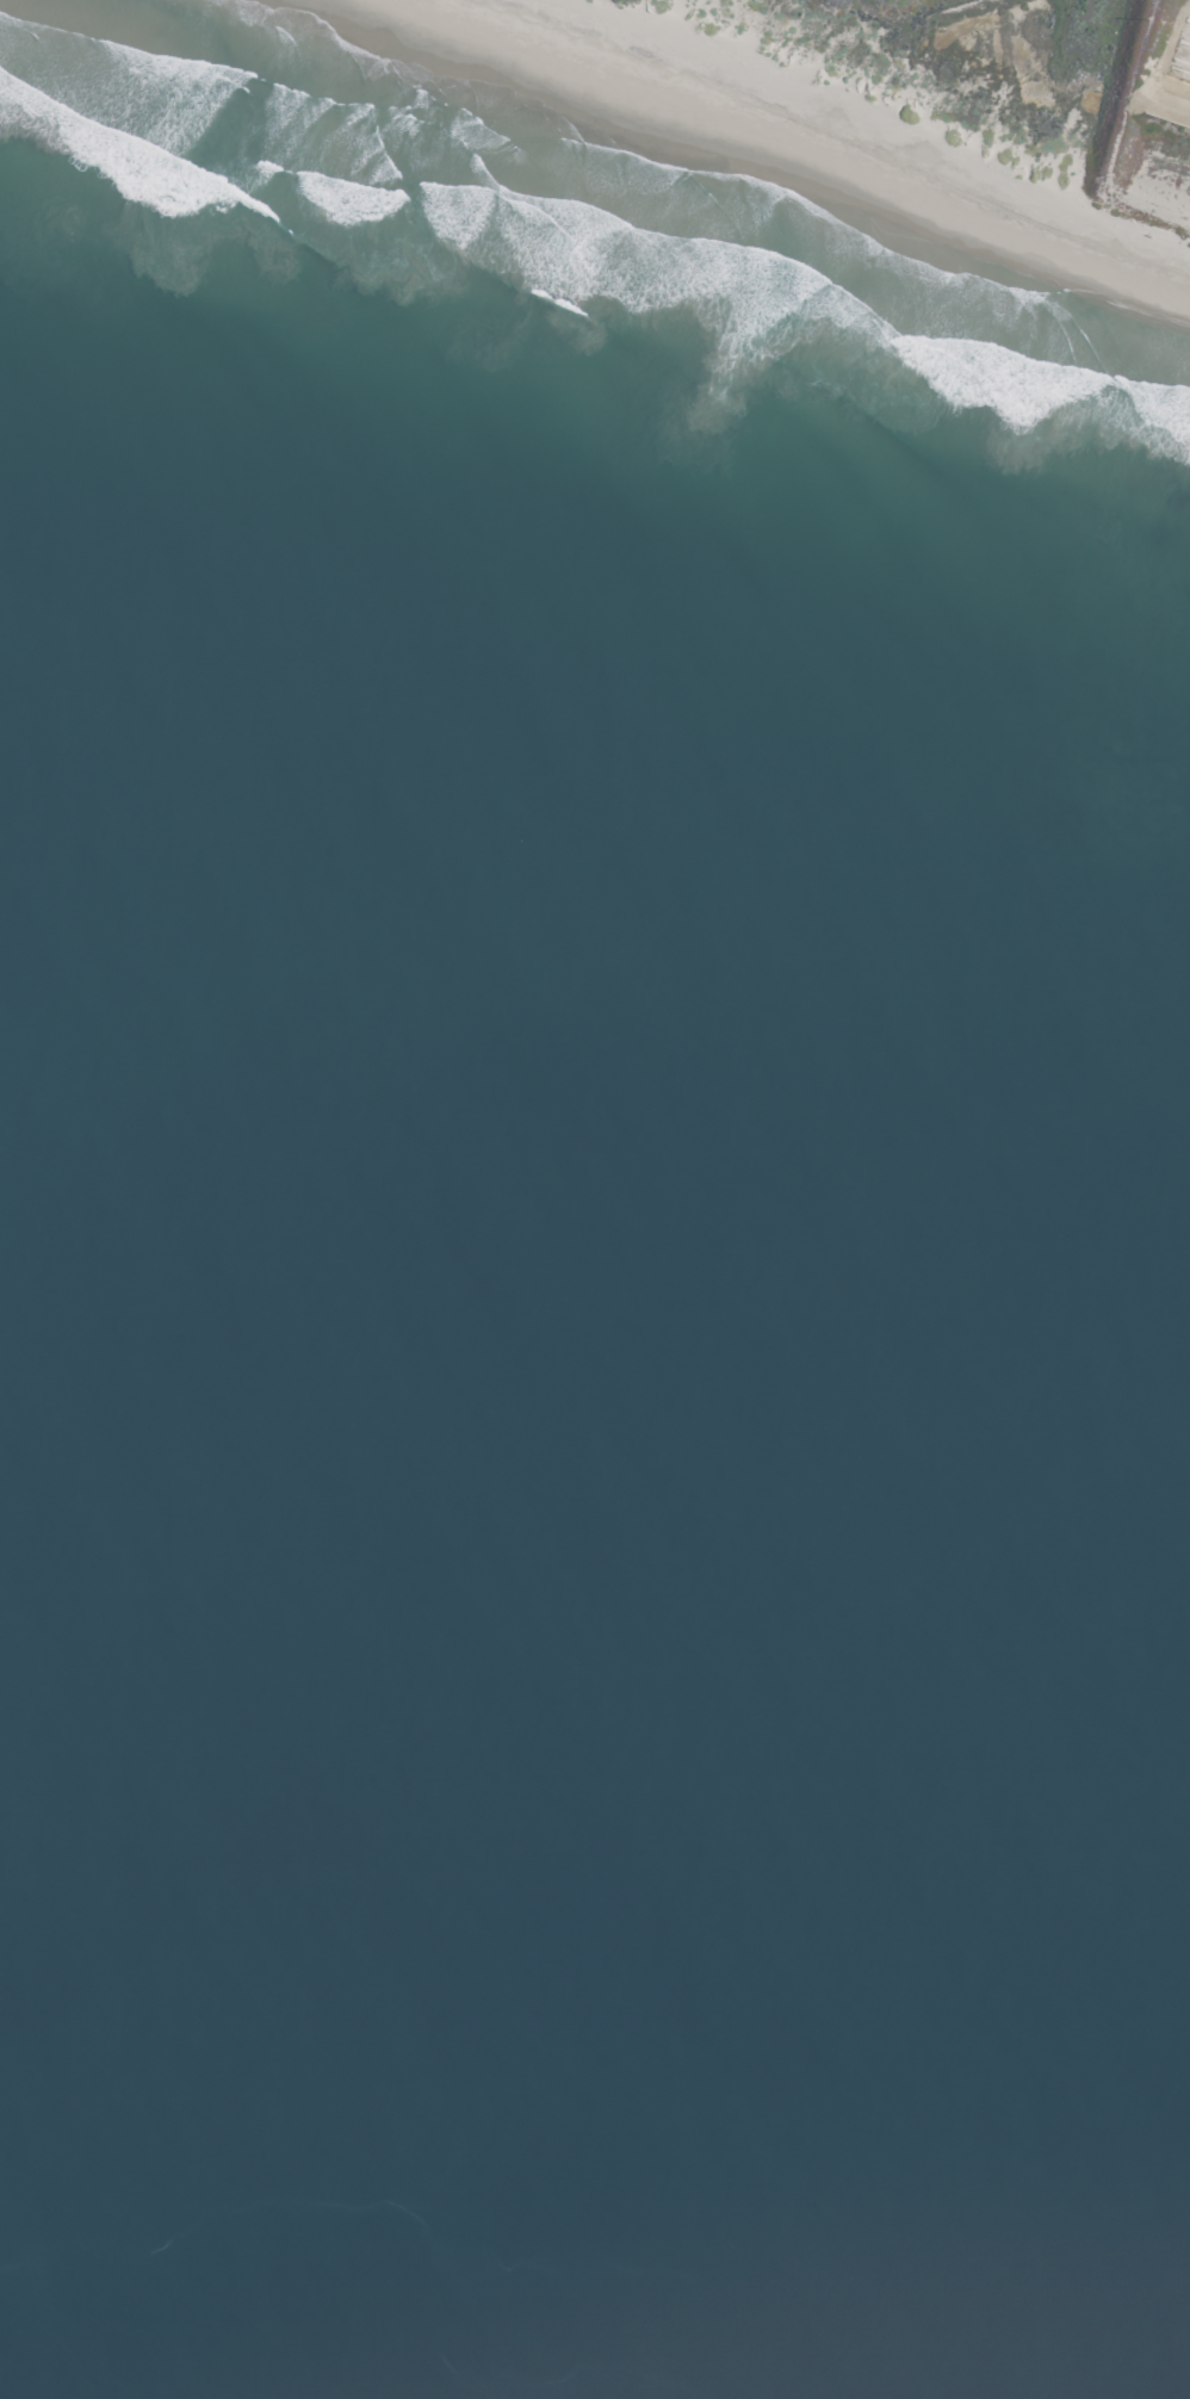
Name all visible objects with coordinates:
airport: (701, 197)

